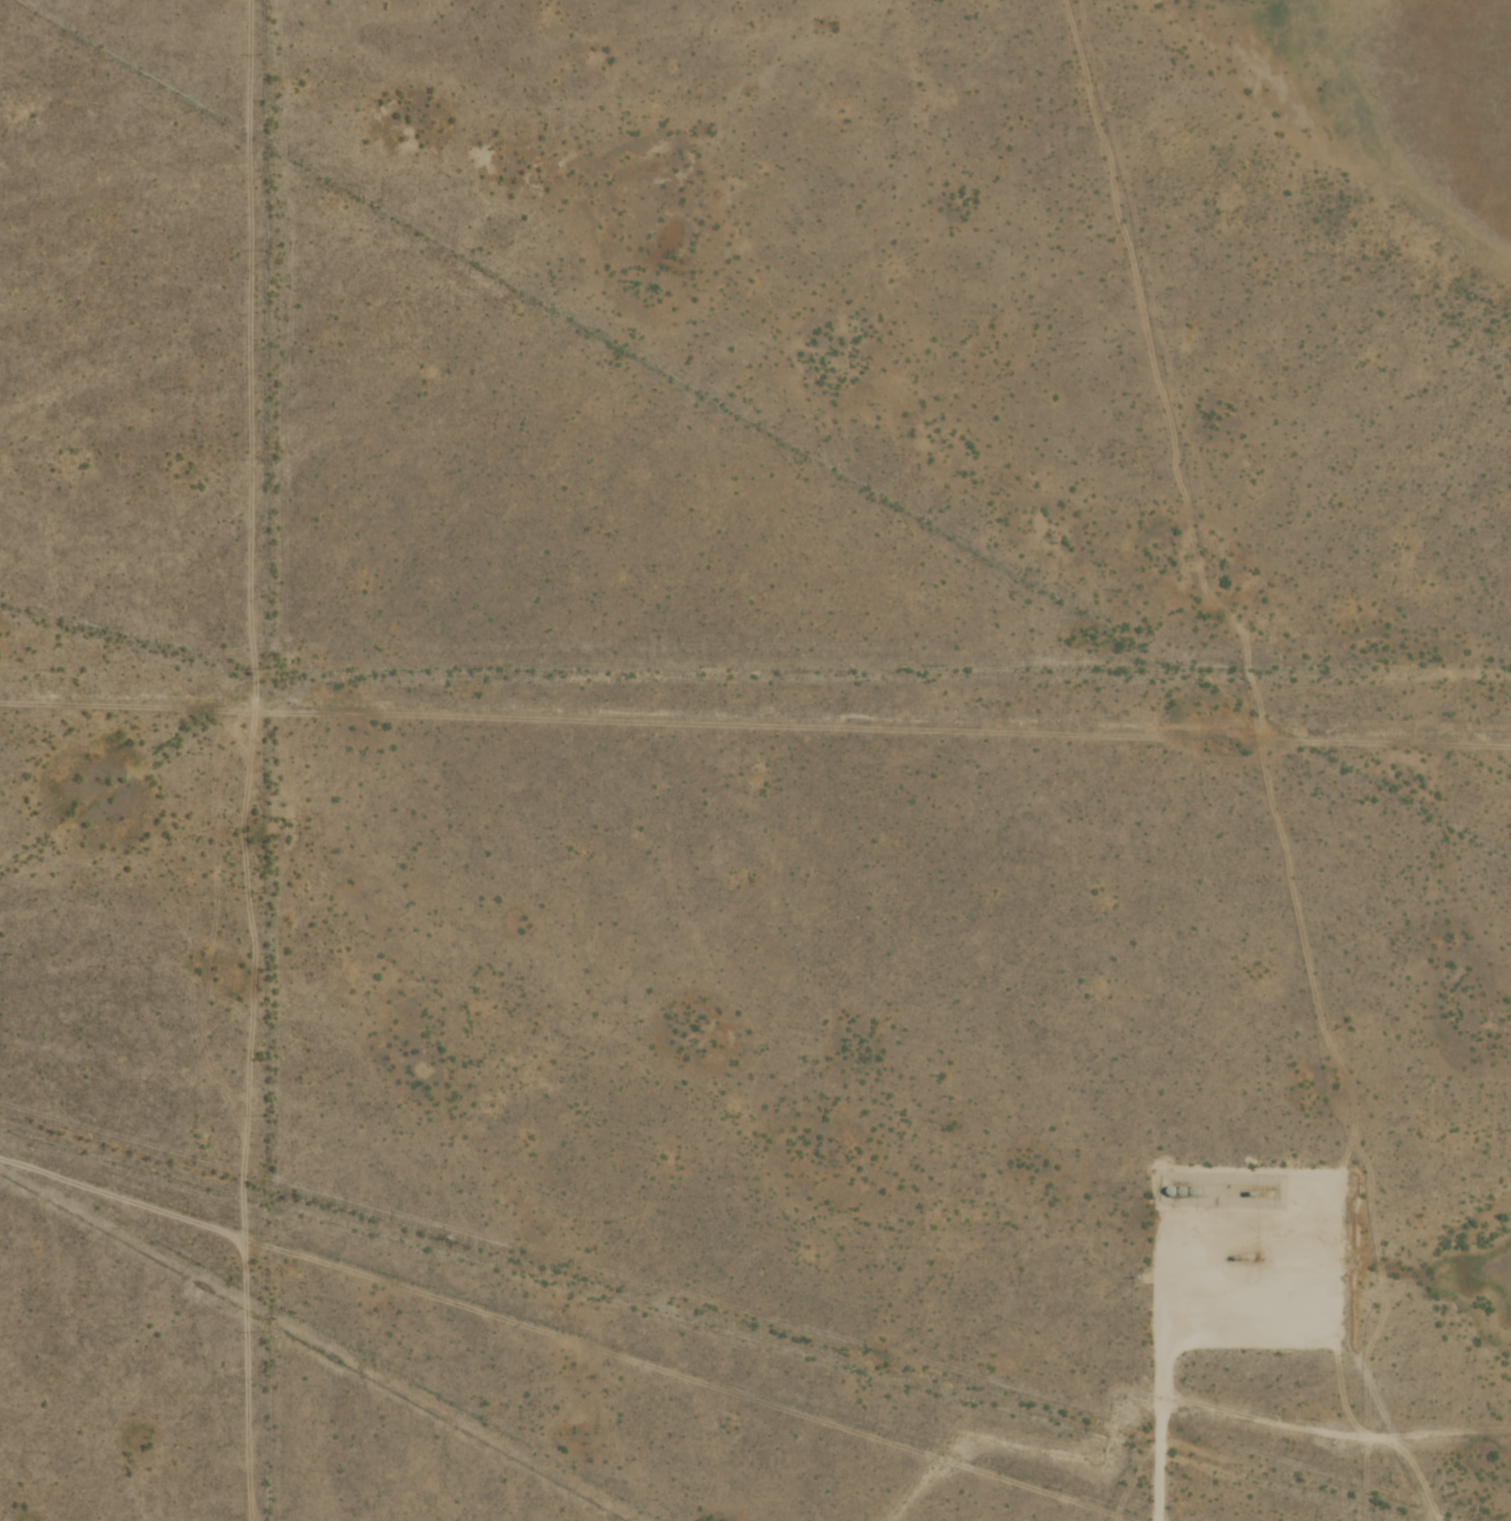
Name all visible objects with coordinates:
road: (754, 636)
road: (165, 760)

